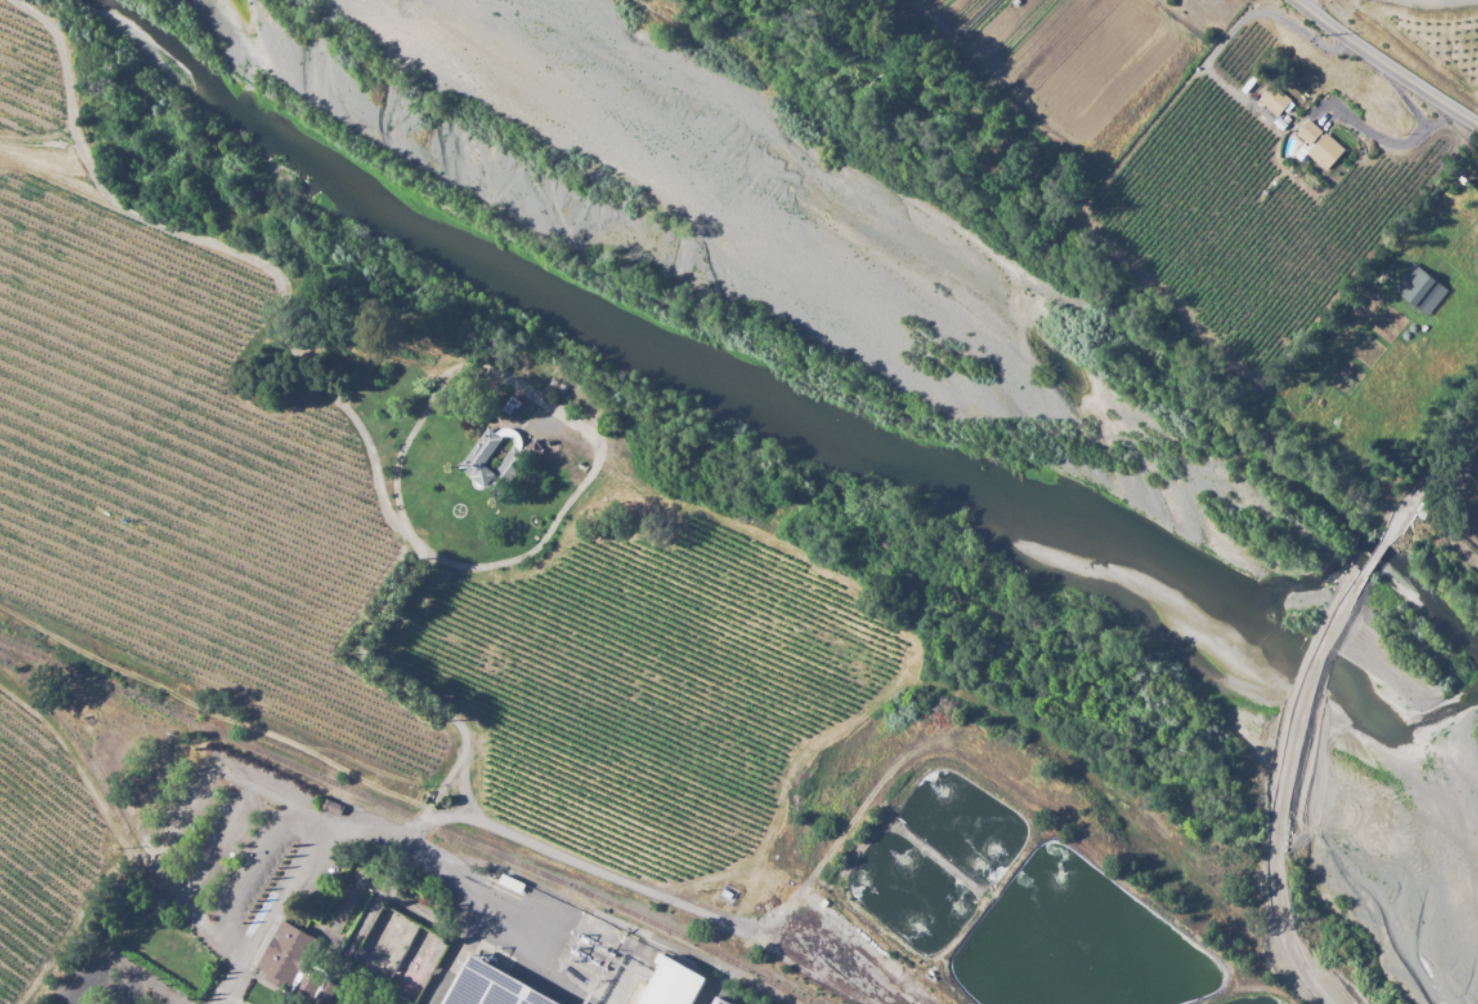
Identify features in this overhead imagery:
road: (1433, 0)
road: (1384, 66)
building: (1273, 99)
building: (1308, 131)
road: (1388, 143)
building: (1325, 151)
building: (1418, 289)
river: (787, 427)
road: (1466, 468)
road: (1428, 473)
road: (1371, 559)
road: (456, 566)
road: (1278, 747)
railway: (106, 805)
railway: (408, 816)
road: (463, 819)
road: (652, 897)
road: (473, 900)
road: (269, 909)
building: (292, 959)
road: (1304, 971)
building: (678, 984)
road: (218, 1002)
road: (220, 1002)

